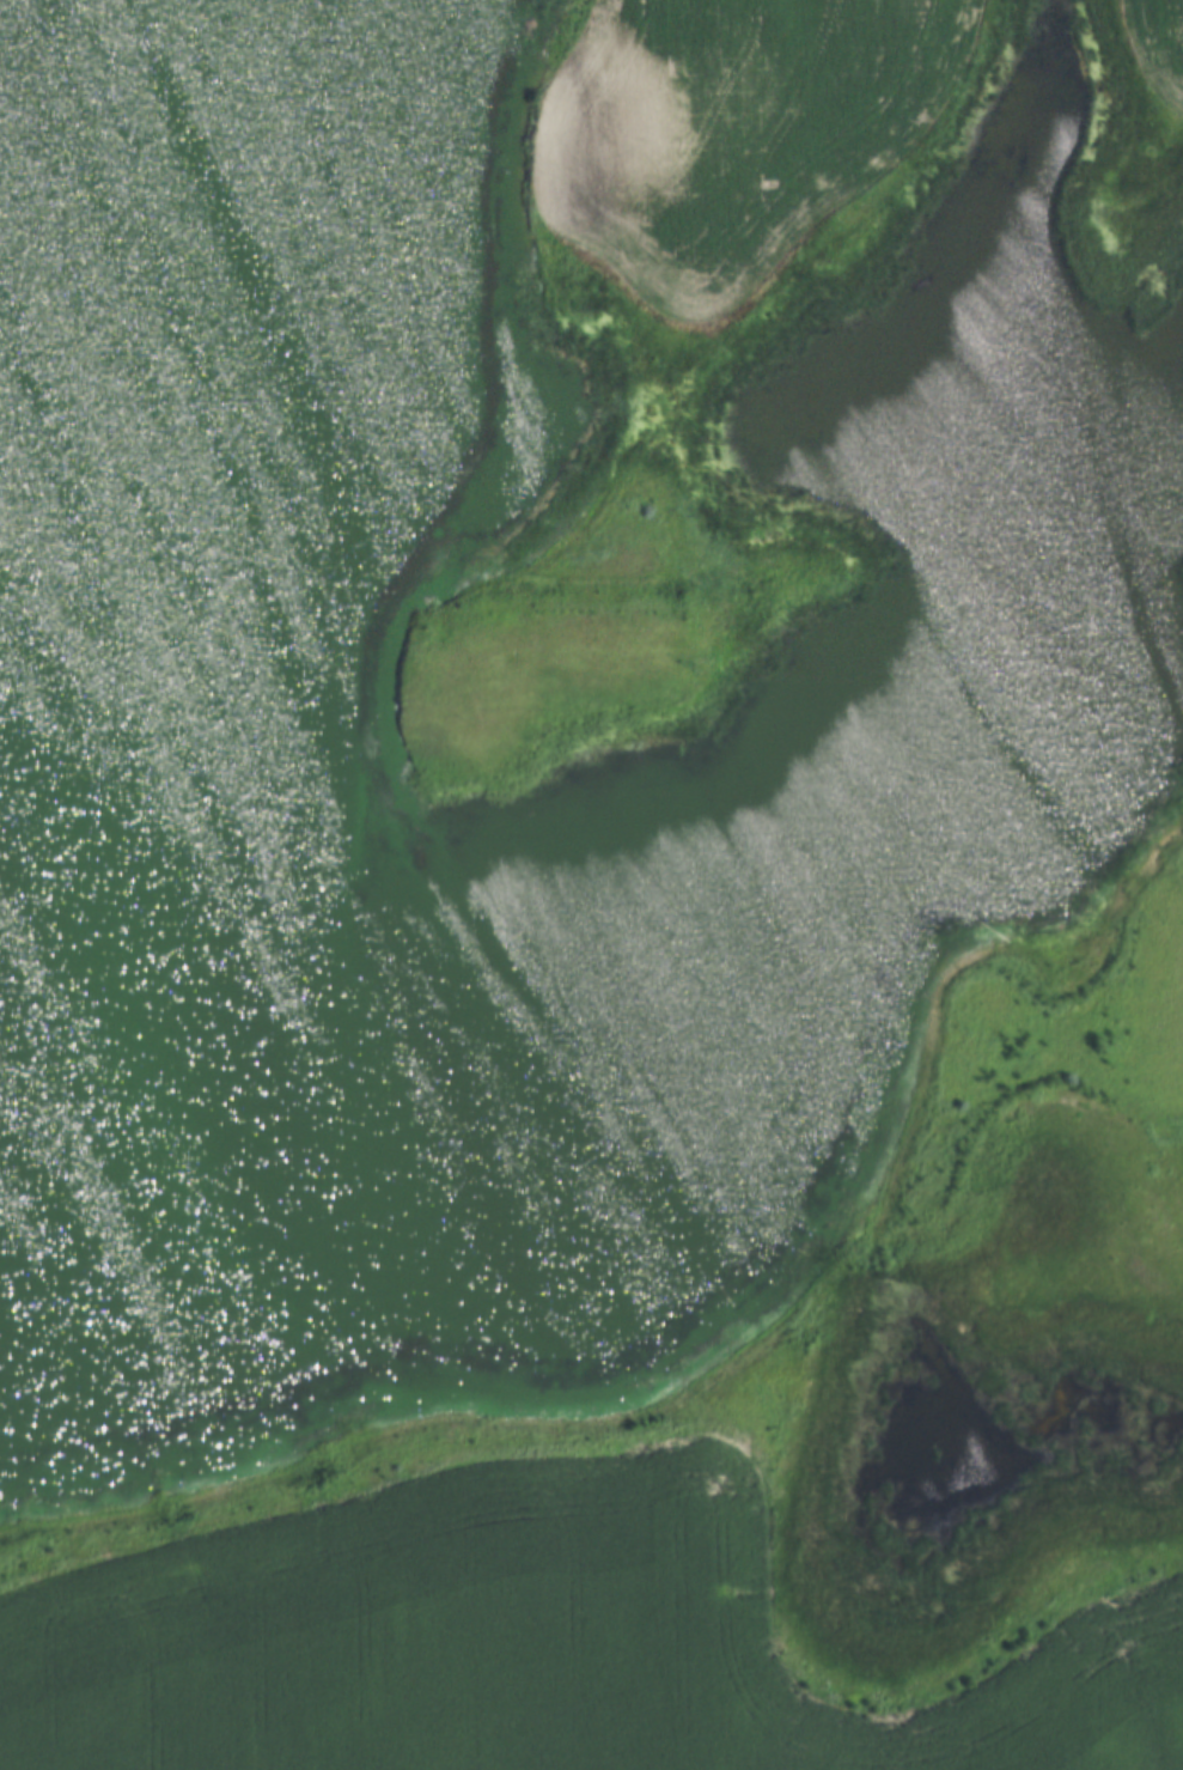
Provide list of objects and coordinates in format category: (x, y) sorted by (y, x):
road: (145, 1599)

